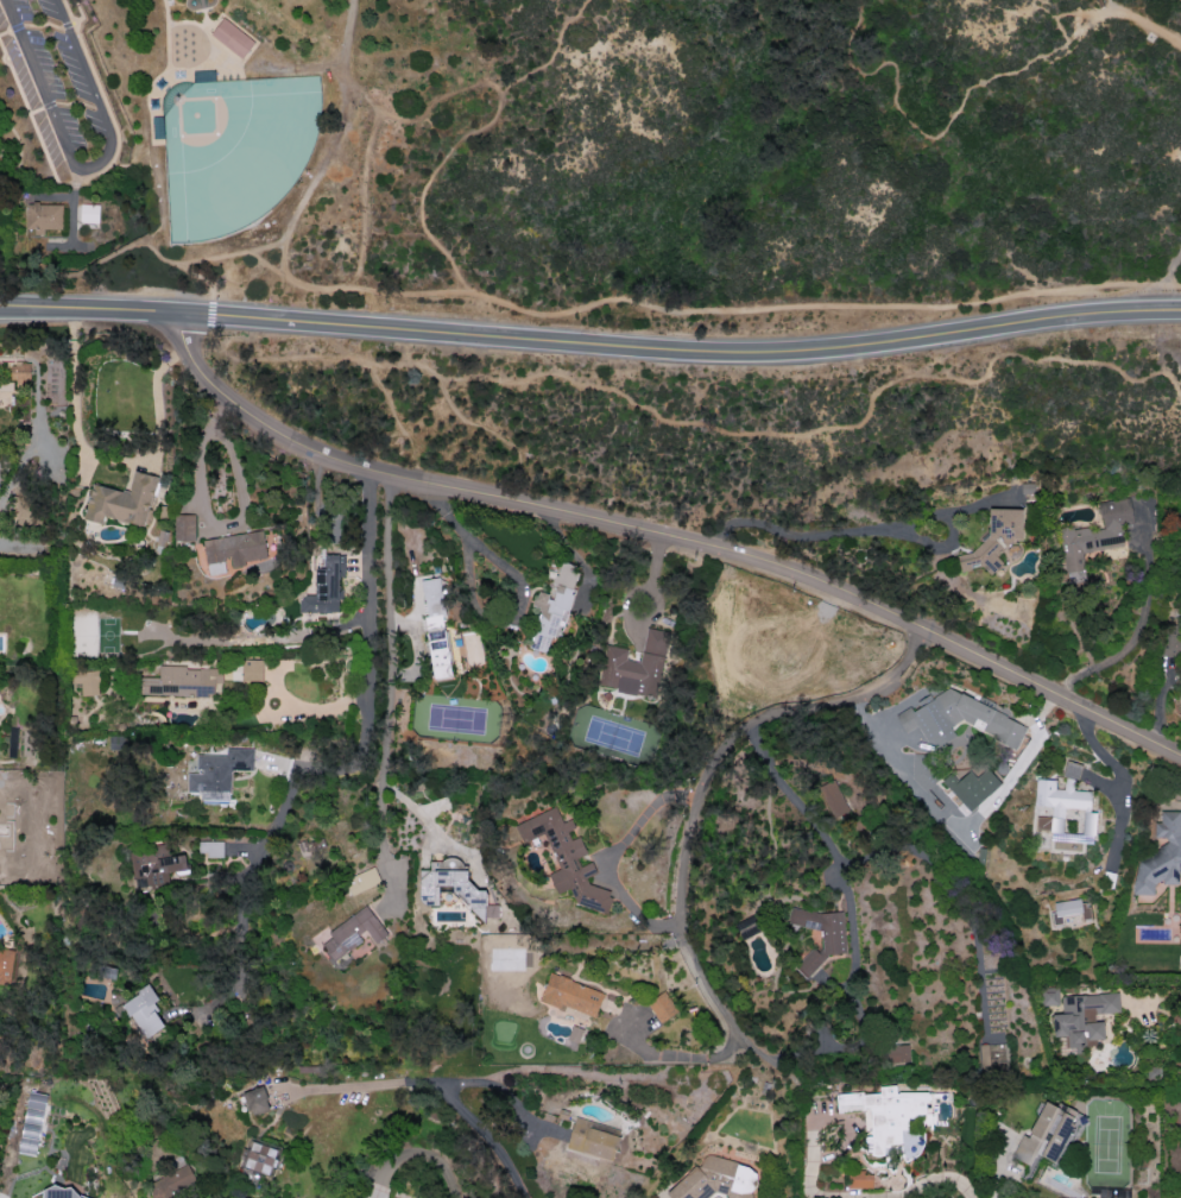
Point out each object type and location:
road: (1167, 4)
road: (1109, 5)
road: (1100, 6)
road: (860, 11)
road: (81, 14)
road: (43, 24)
road: (67, 24)
road: (17, 26)
road: (5, 31)
building: (232, 37)
road: (214, 46)
road: (278, 65)
road: (168, 72)
parking lot: (56, 83)
road: (77, 101)
road: (962, 101)
road: (49, 103)
road: (424, 107)
road: (36, 111)
road: (329, 138)
road: (469, 144)
road: (20, 150)
park: (235, 151)
road: (150, 159)
park: (599, 165)
road: (84, 169)
road: (96, 172)
road: (70, 200)
road: (362, 201)
road: (154, 202)
building: (88, 213)
building: (43, 215)
road: (70, 222)
road: (228, 253)
road: (156, 254)
road: (259, 259)
road: (1169, 267)
road: (76, 272)
road: (190, 272)
road: (250, 275)
road: (221, 291)
road: (182, 308)
road: (720, 311)
road: (773, 355)
building: (20, 372)
road: (102, 455)
building: (122, 500)
road: (211, 523)
building: (183, 528)
road: (871, 529)
road: (656, 535)
building: (1094, 537)
building: (993, 540)
building: (233, 549)
building: (324, 586)
road: (655, 588)
road: (520, 600)
building: (435, 628)
road: (1132, 631)
building: (1170, 641)
building: (636, 666)
building: (252, 669)
road: (387, 674)
building: (87, 681)
building: (182, 681)
road: (308, 706)
building: (959, 719)
road: (1018, 761)
road: (343, 768)
building: (1072, 769)
building: (217, 773)
road: (1124, 780)
road: (701, 784)
building: (971, 787)
building: (1065, 811)
road: (816, 826)
building: (210, 847)
road: (615, 856)
building: (1160, 856)
building: (564, 858)
building: (154, 865)
building: (362, 881)
building: (453, 887)
building: (1069, 910)
building: (749, 926)
building: (352, 934)
building: (833, 939)
building: (6, 964)
building: (570, 995)
building: (1049, 996)
building: (662, 1007)
building: (143, 1011)
building: (1084, 1017)
building: (899, 1053)
road: (671, 1055)
road: (509, 1095)
road: (450, 1099)
building: (255, 1101)
building: (891, 1117)
building: (31, 1123)
building: (1044, 1134)
building: (592, 1140)
road: (416, 1153)
building: (260, 1155)
road: (996, 1166)
building: (715, 1179)
building: (860, 1179)
building: (170, 1184)
building: (68, 1194)
road: (858, 1197)

